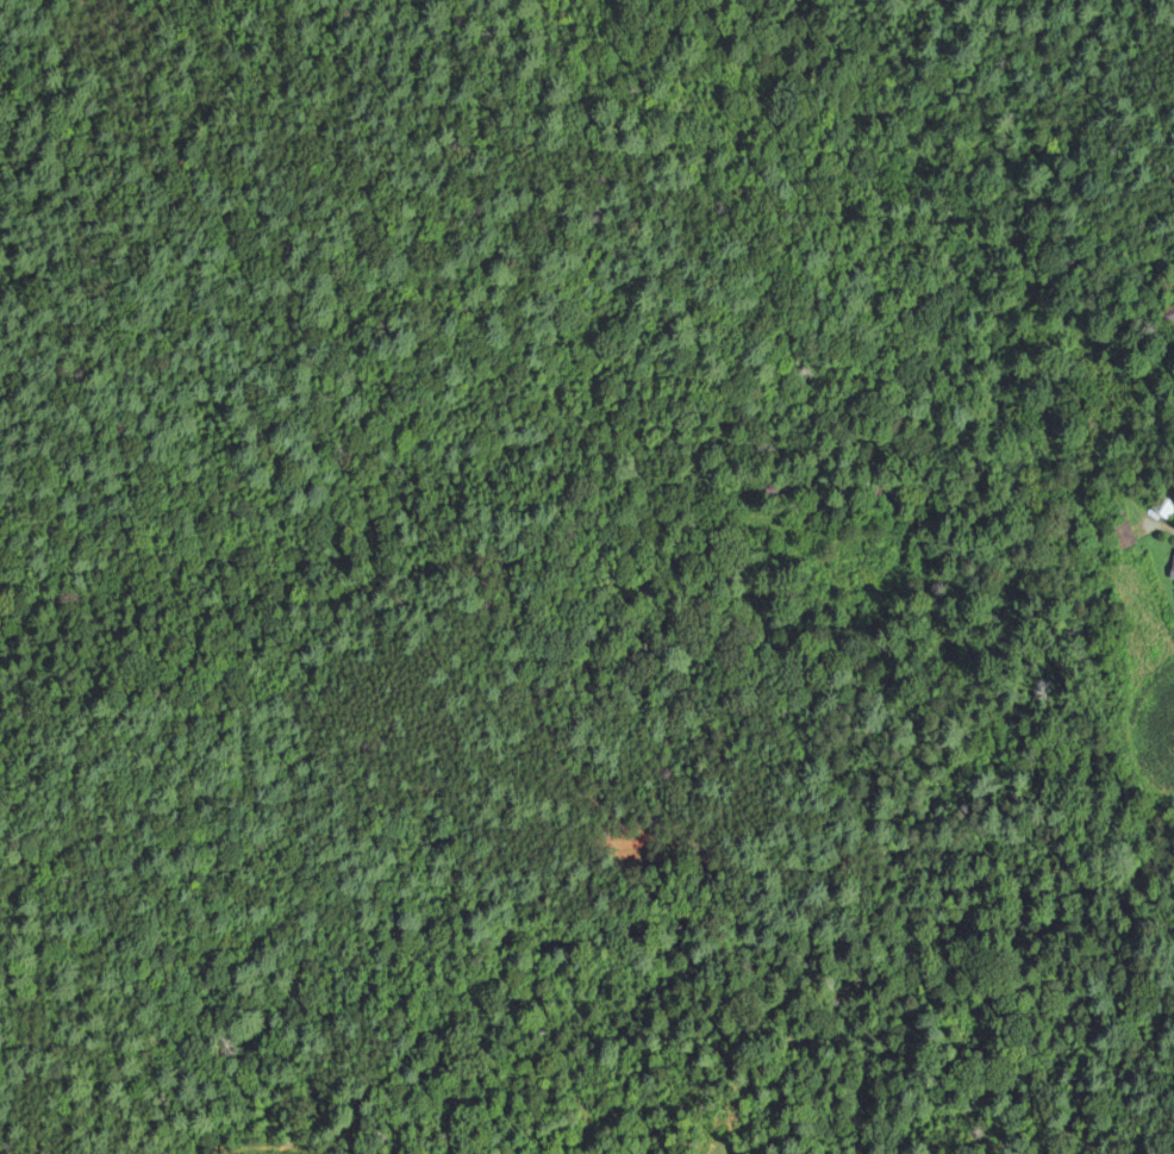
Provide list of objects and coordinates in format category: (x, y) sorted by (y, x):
building: (1168, 314)
road: (1135, 482)
building: (913, 493)
building: (1163, 509)
building: (1119, 532)
building: (1172, 574)

